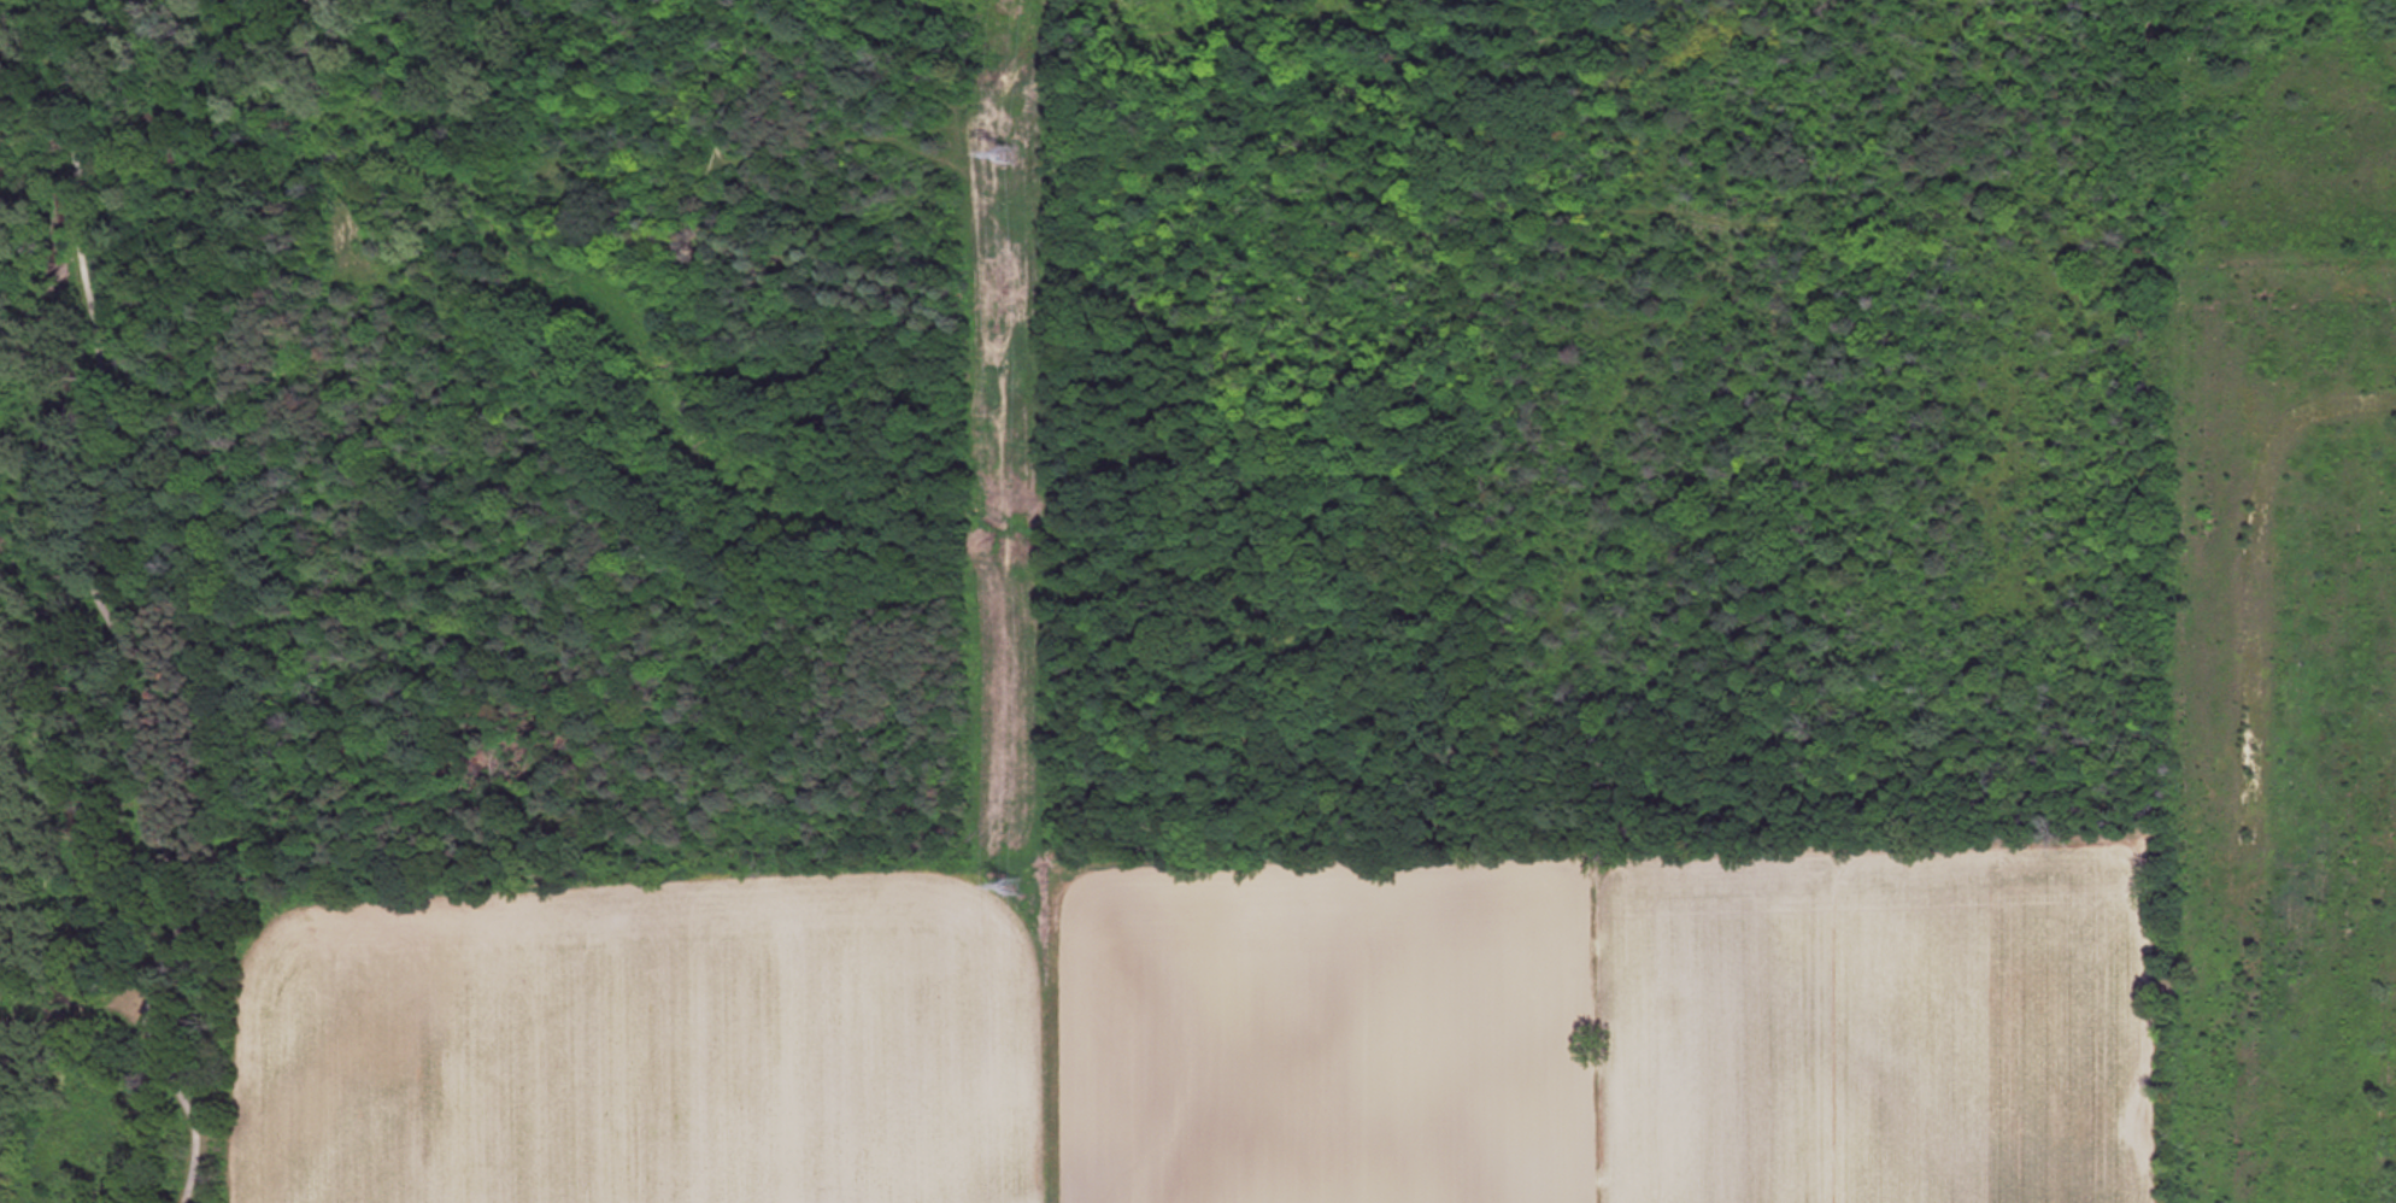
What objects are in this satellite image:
road: (328, 1)
power tower: (1009, 155)
road: (129, 608)
power tower: (1012, 885)

